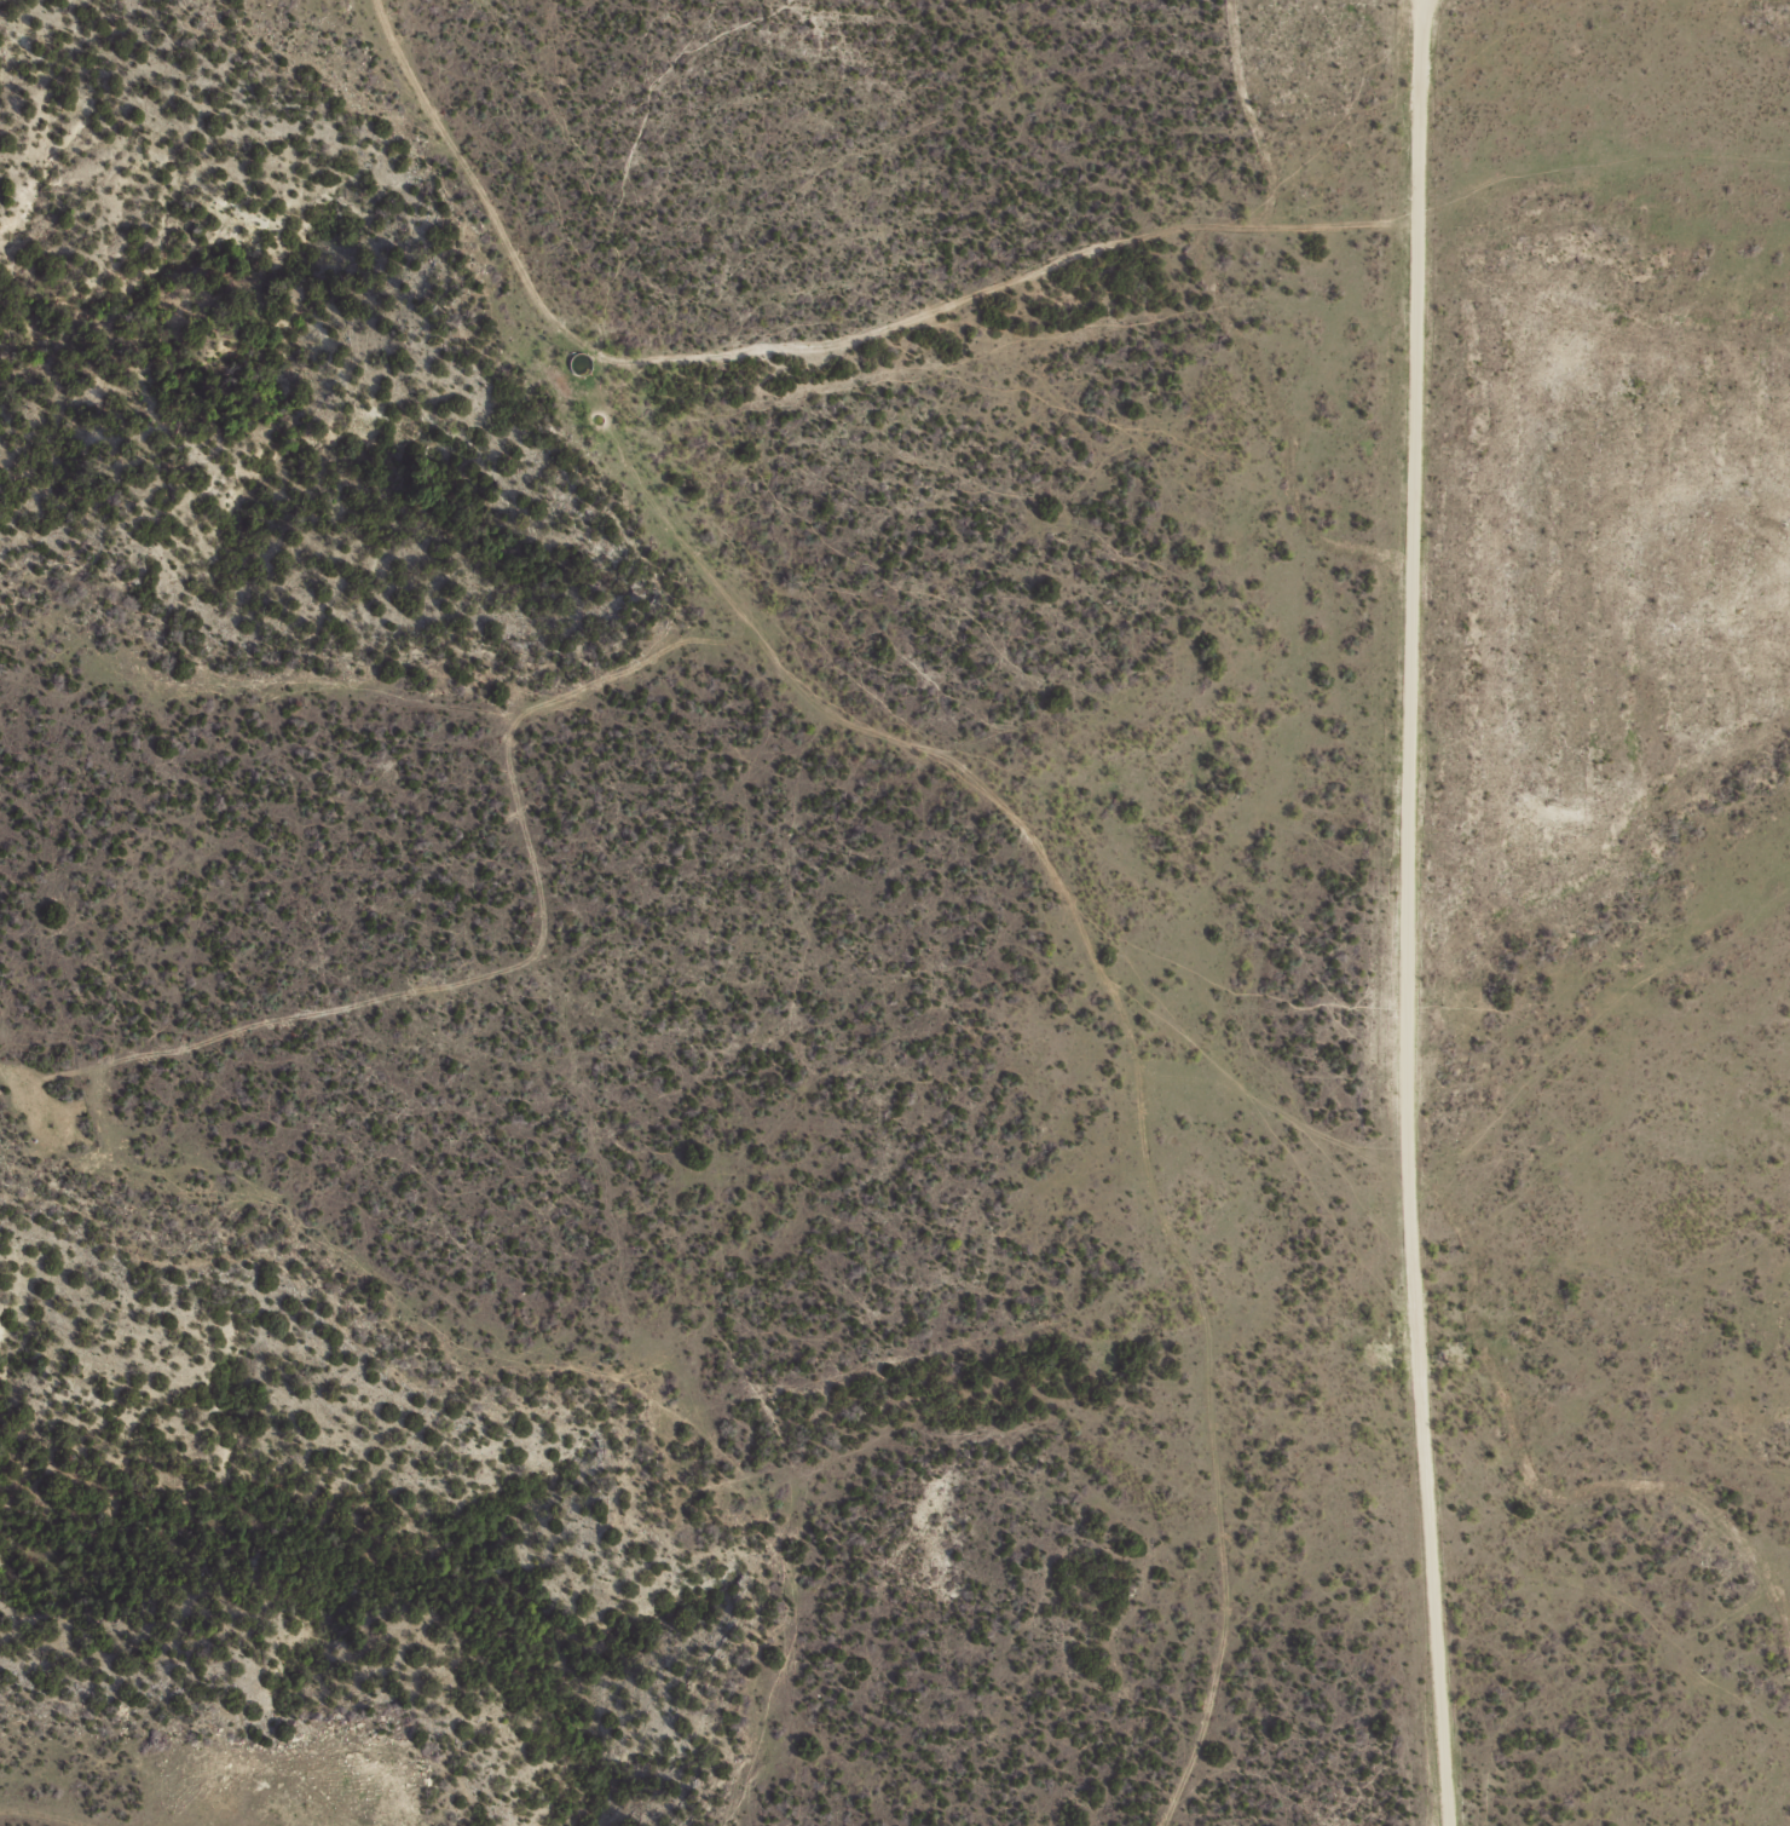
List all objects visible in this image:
road: (1012, 808)

